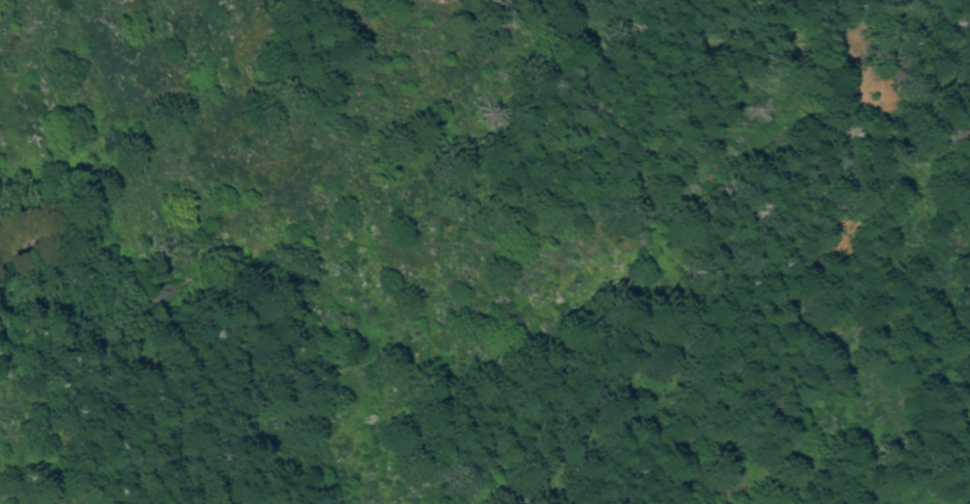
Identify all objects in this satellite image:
road: (870, 194)

